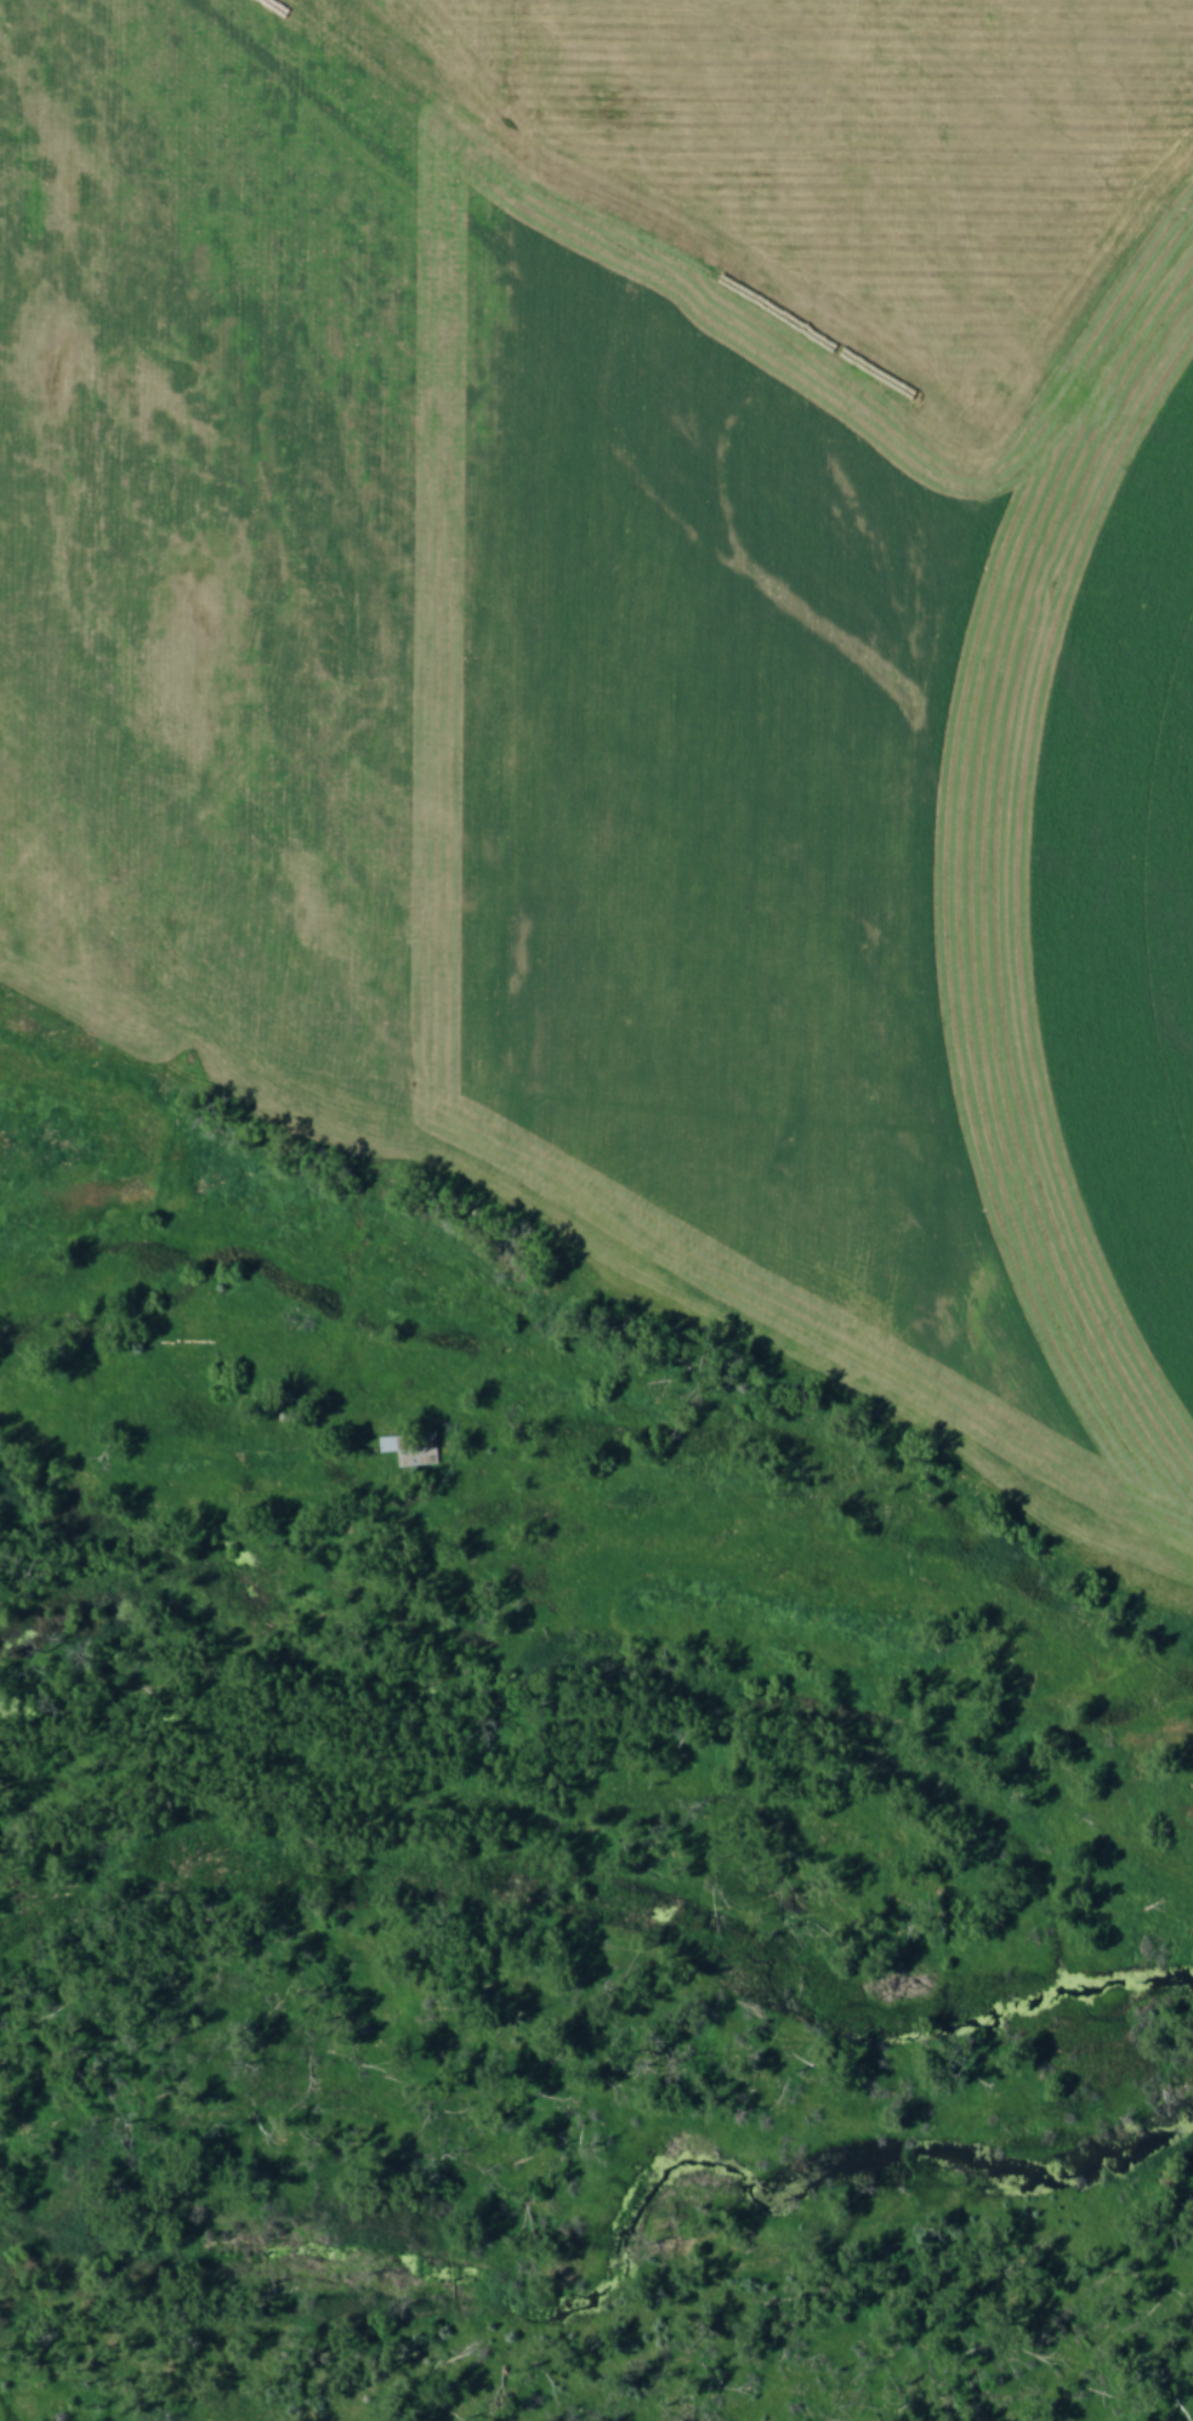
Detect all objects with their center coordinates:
crop: (1078, 861)
building: (414, 1451)

